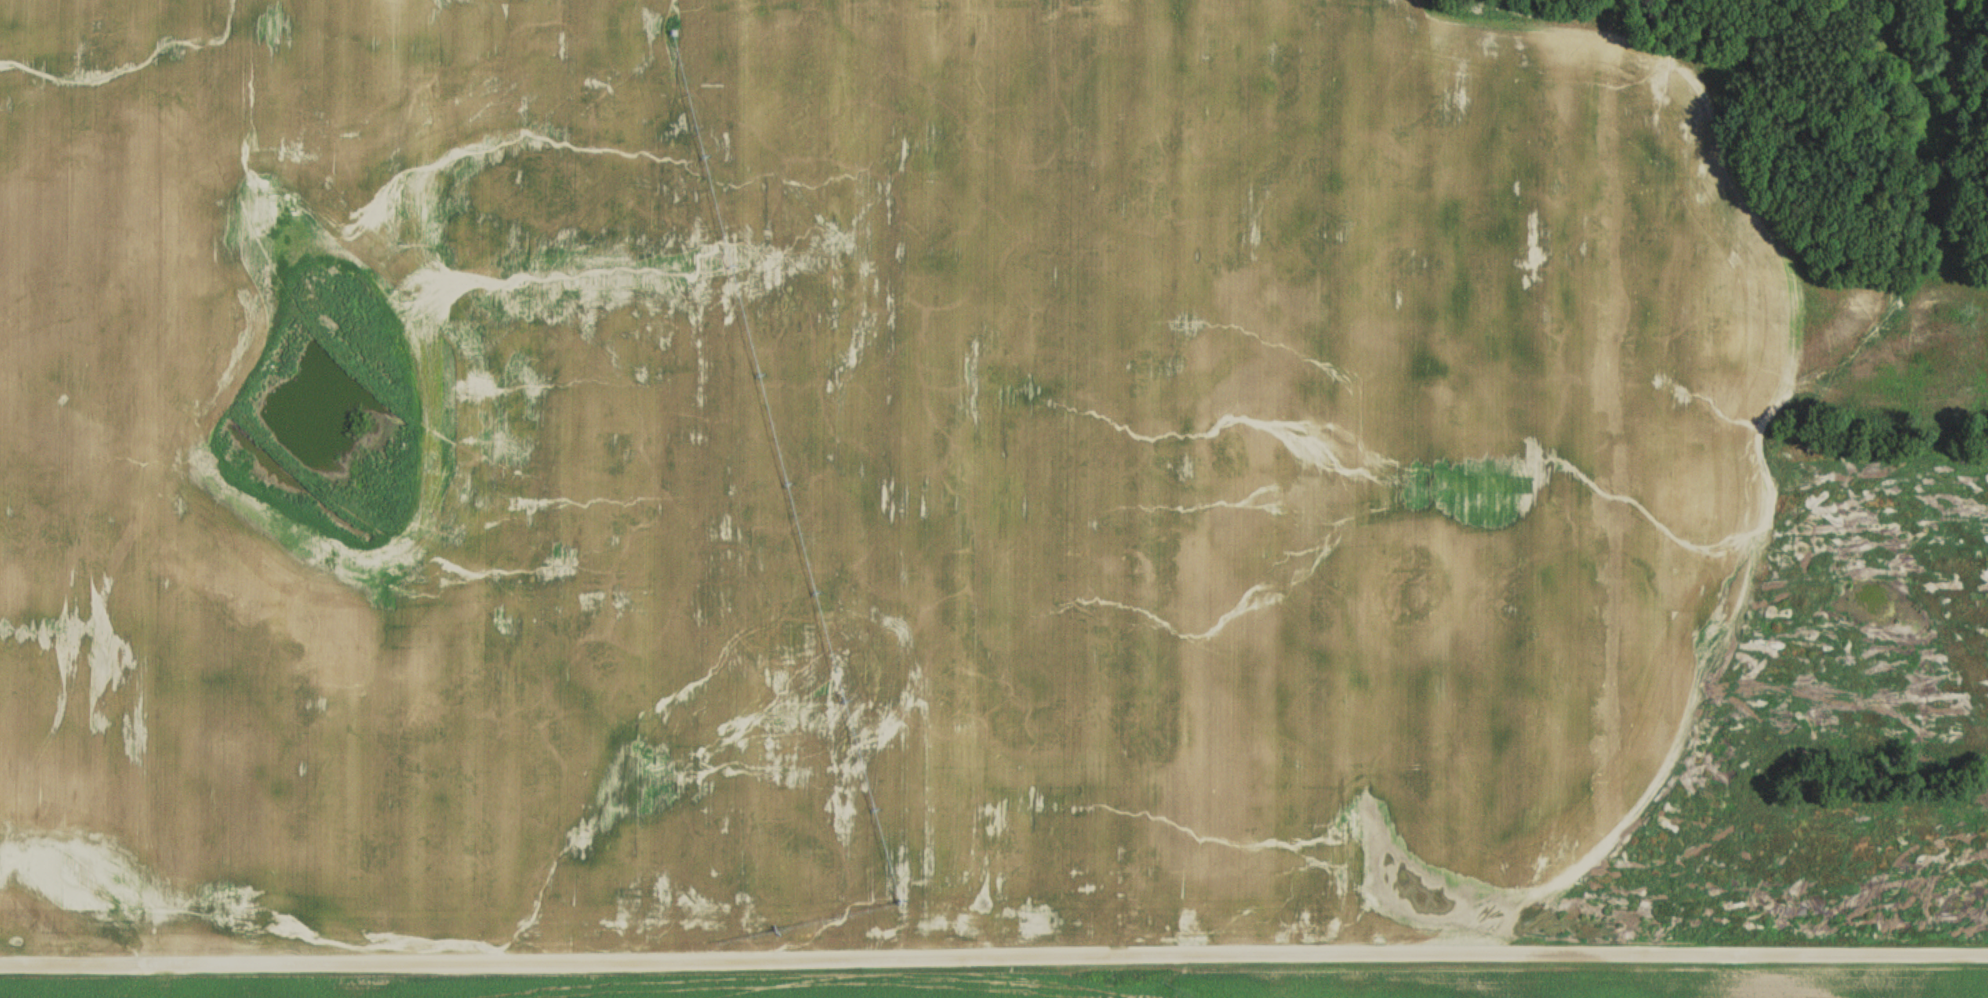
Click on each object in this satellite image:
road: (993, 957)

